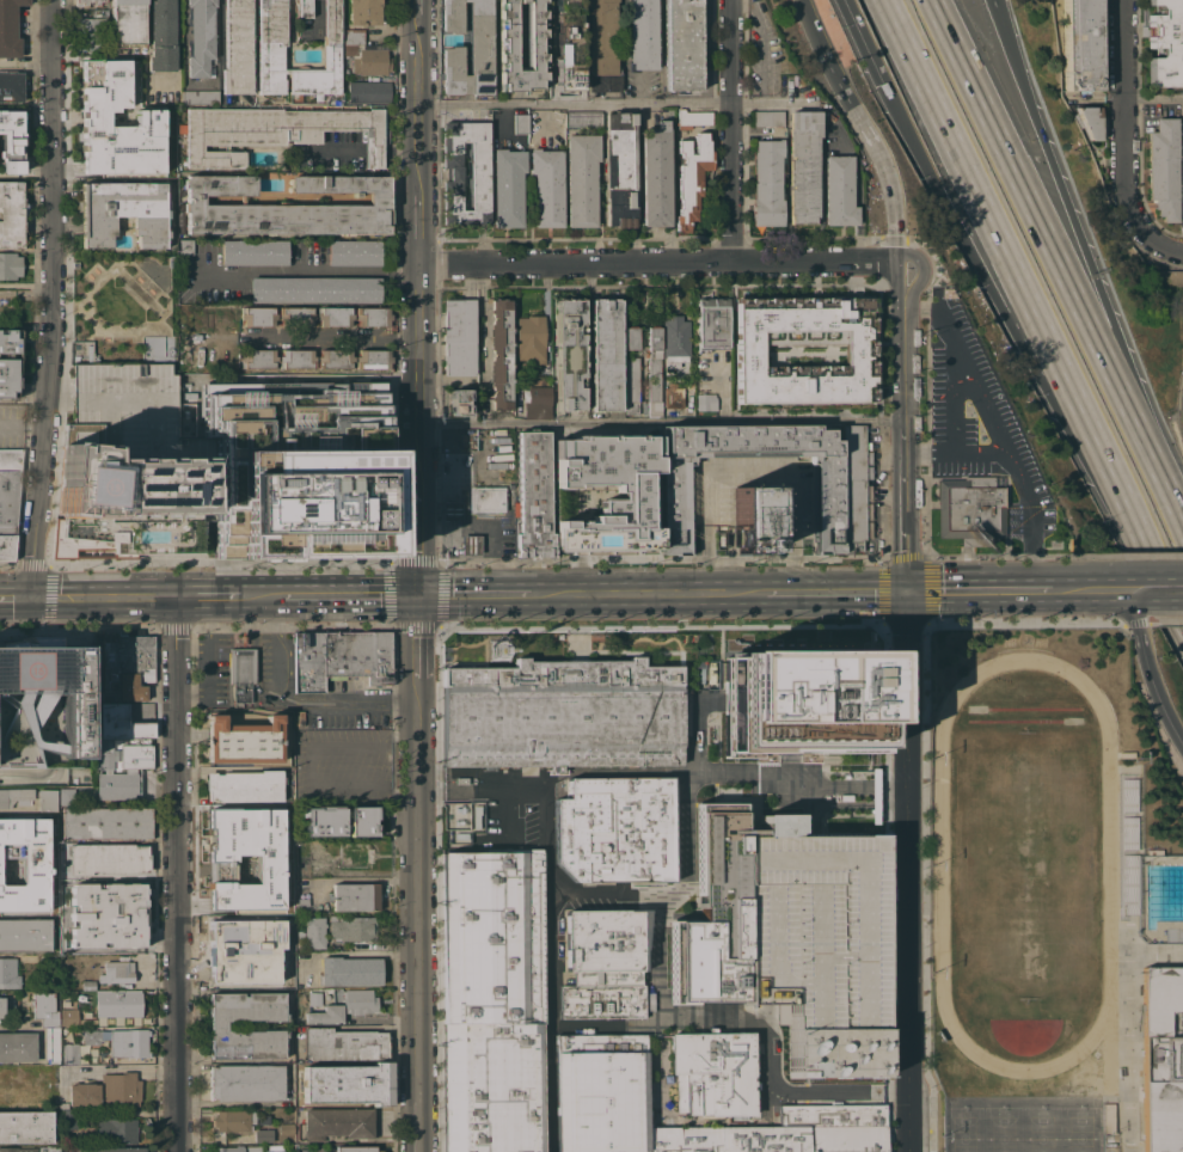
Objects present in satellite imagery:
building: (521, 1)
building: (80, 2)
building: (304, 7)
building: (363, 12)
building: (99, 13)
road: (416, 17)
building: (127, 23)
building: (8, 27)
road: (809, 27)
building: (90, 33)
building: (643, 33)
building: (161, 35)
building: (537, 35)
building: (200, 36)
road: (859, 41)
building: (681, 44)
building: (1165, 44)
building: (601, 45)
building: (1079, 45)
building: (568, 47)
building: (238, 48)
road: (728, 51)
road: (183, 54)
building: (364, 54)
building: (270, 57)
building: (479, 61)
traffic signals: (881, 85)
building: (11, 86)
building: (368, 92)
building: (201, 97)
road: (1152, 99)
road: (572, 104)
road: (776, 104)
road: (416, 114)
building: (116, 118)
building: (583, 118)
building: (693, 118)
building: (767, 118)
road: (1120, 120)
building: (1089, 121)
building: (520, 123)
building: (274, 131)
building: (11, 141)
road: (331, 152)
road: (374, 152)
road: (399, 152)
road: (879, 160)
building: (1182, 165)
building: (803, 166)
building: (619, 168)
building: (1163, 168)
building: (478, 173)
building: (655, 176)
building: (691, 177)
building: (581, 178)
road: (730, 183)
building: (766, 183)
building: (508, 186)
building: (546, 186)
building: (838, 191)
building: (288, 206)
building: (123, 212)
building: (11, 214)
road: (416, 229)
building: (185, 246)
road: (1160, 246)
road: (1081, 249)
road: (1048, 250)
building: (253, 252)
building: (354, 252)
road: (911, 253)
road: (630, 263)
building: (10, 265)
road: (871, 265)
road: (399, 270)
road: (296, 272)
road: (26, 284)
road: (137, 289)
building: (315, 289)
building: (946, 293)
park: (119, 294)
road: (900, 295)
road: (164, 296)
road: (51, 299)
road: (61, 306)
road: (1035, 312)
road: (938, 313)
road: (1001, 313)
building: (259, 315)
building: (336, 315)
building: (372, 315)
building: (296, 317)
road: (484, 321)
building: (711, 324)
road: (311, 336)
building: (458, 337)
building: (529, 337)
building: (631, 337)
building: (674, 341)
road: (957, 350)
building: (568, 351)
building: (805, 353)
building: (499, 354)
building: (606, 355)
building: (221, 356)
building: (259, 359)
building: (295, 359)
building: (336, 359)
building: (373, 359)
building: (183, 361)
building: (8, 362)
building: (654, 370)
road: (418, 373)
building: (631, 385)
road: (905, 392)
building: (676, 398)
building: (459, 402)
building: (537, 402)
building: (705, 402)
parking lot: (981, 419)
road: (22, 423)
road: (662, 424)
building: (131, 462)
road: (749, 470)
road: (1016, 474)
building: (852, 488)
building: (612, 492)
building: (533, 495)
road: (458, 497)
road: (709, 497)
building: (486, 498)
building: (826, 498)
building: (8, 500)
road: (422, 504)
road: (791, 507)
building: (450, 510)
building: (970, 510)
road: (449, 511)
road: (466, 513)
road: (1176, 513)
building: (752, 519)
road: (435, 527)
road: (458, 527)
road: (482, 528)
road: (907, 532)
road: (449, 534)
road: (497, 543)
building: (470, 545)
road: (449, 549)
road: (473, 557)
road: (709, 557)
road: (422, 560)
road: (792, 568)
road: (1093, 589)
road: (1159, 589)
road: (979, 590)
road: (619, 592)
road: (737, 592)
road: (779, 592)
road: (851, 592)
traffic signals: (908, 592)
road: (474, 593)
road: (351, 594)
traffic signals: (422, 594)
road: (258, 595)
road: (105, 598)
road: (208, 598)
road: (16, 599)
traffic signals: (32, 599)
road: (1140, 641)
road: (422, 644)
road: (287, 650)
building: (109, 658)
building: (341, 658)
road: (212, 662)
building: (134, 666)
parking lot: (213, 668)
helipad: (22, 669)
building: (241, 673)
building: (562, 676)
road: (290, 700)
building: (42, 706)
building: (99, 707)
building: (803, 707)
road: (1170, 719)
building: (127, 722)
building: (563, 728)
building: (243, 740)
building: (122, 755)
parking lot: (338, 762)
road: (304, 764)
road: (464, 771)
road: (752, 774)
building: (461, 779)
road: (431, 780)
building: (117, 785)
building: (245, 785)
road: (822, 785)
road: (866, 785)
road: (464, 791)
building: (14, 796)
building: (66, 796)
road: (901, 797)
building: (45, 799)
road: (829, 807)
road: (872, 807)
building: (477, 815)
building: (455, 816)
road: (813, 817)
building: (323, 821)
building: (362, 821)
building: (106, 822)
building: (614, 829)
building: (354, 854)
building: (106, 858)
building: (244, 859)
track: (1024, 863)
building: (23, 864)
park: (1024, 864)
building: (302, 865)
road: (909, 871)
road: (178, 875)
building: (301, 891)
road: (594, 893)
road: (422, 895)
building: (355, 896)
building: (105, 915)
building: (711, 920)
building: (809, 924)
parking garage: (809, 924)
building: (351, 927)
building: (314, 932)
building: (24, 935)
building: (492, 937)
building: (243, 940)
building: (299, 940)
building: (603, 940)
building: (349, 970)
building: (116, 972)
building: (8, 973)
building: (87, 985)
building: (602, 995)
building: (313, 999)
building: (358, 1000)
building: (109, 1004)
building: (1, 1006)
building: (43, 1010)
building: (325, 1013)
building: (68, 1016)
road: (550, 1022)
building: (216, 1027)
road: (760, 1027)
road: (18, 1028)
building: (119, 1041)
building: (51, 1044)
building: (342, 1044)
building: (18, 1047)
building: (832, 1049)
building: (68, 1053)
building: (1163, 1059)
building: (38, 1068)
building: (713, 1072)
building: (7, 1074)
building: (36, 1080)
building: (246, 1083)
building: (347, 1084)
building: (494, 1087)
building: (106, 1090)
building: (600, 1092)
building: (10, 1099)
building: (63, 1105)
building: (234, 1120)
building: (67, 1121)
building: (338, 1123)
park: (1020, 1123)
road: (421, 1125)
building: (25, 1127)
building: (116, 1129)
building: (286, 1129)
building: (784, 1132)
building: (263, 1135)
building: (49, 1148)
building: (228, 1148)
building: (253, 1148)
building: (274, 1148)
building: (355, 1148)
building: (16, 1150)
building: (116, 1150)

